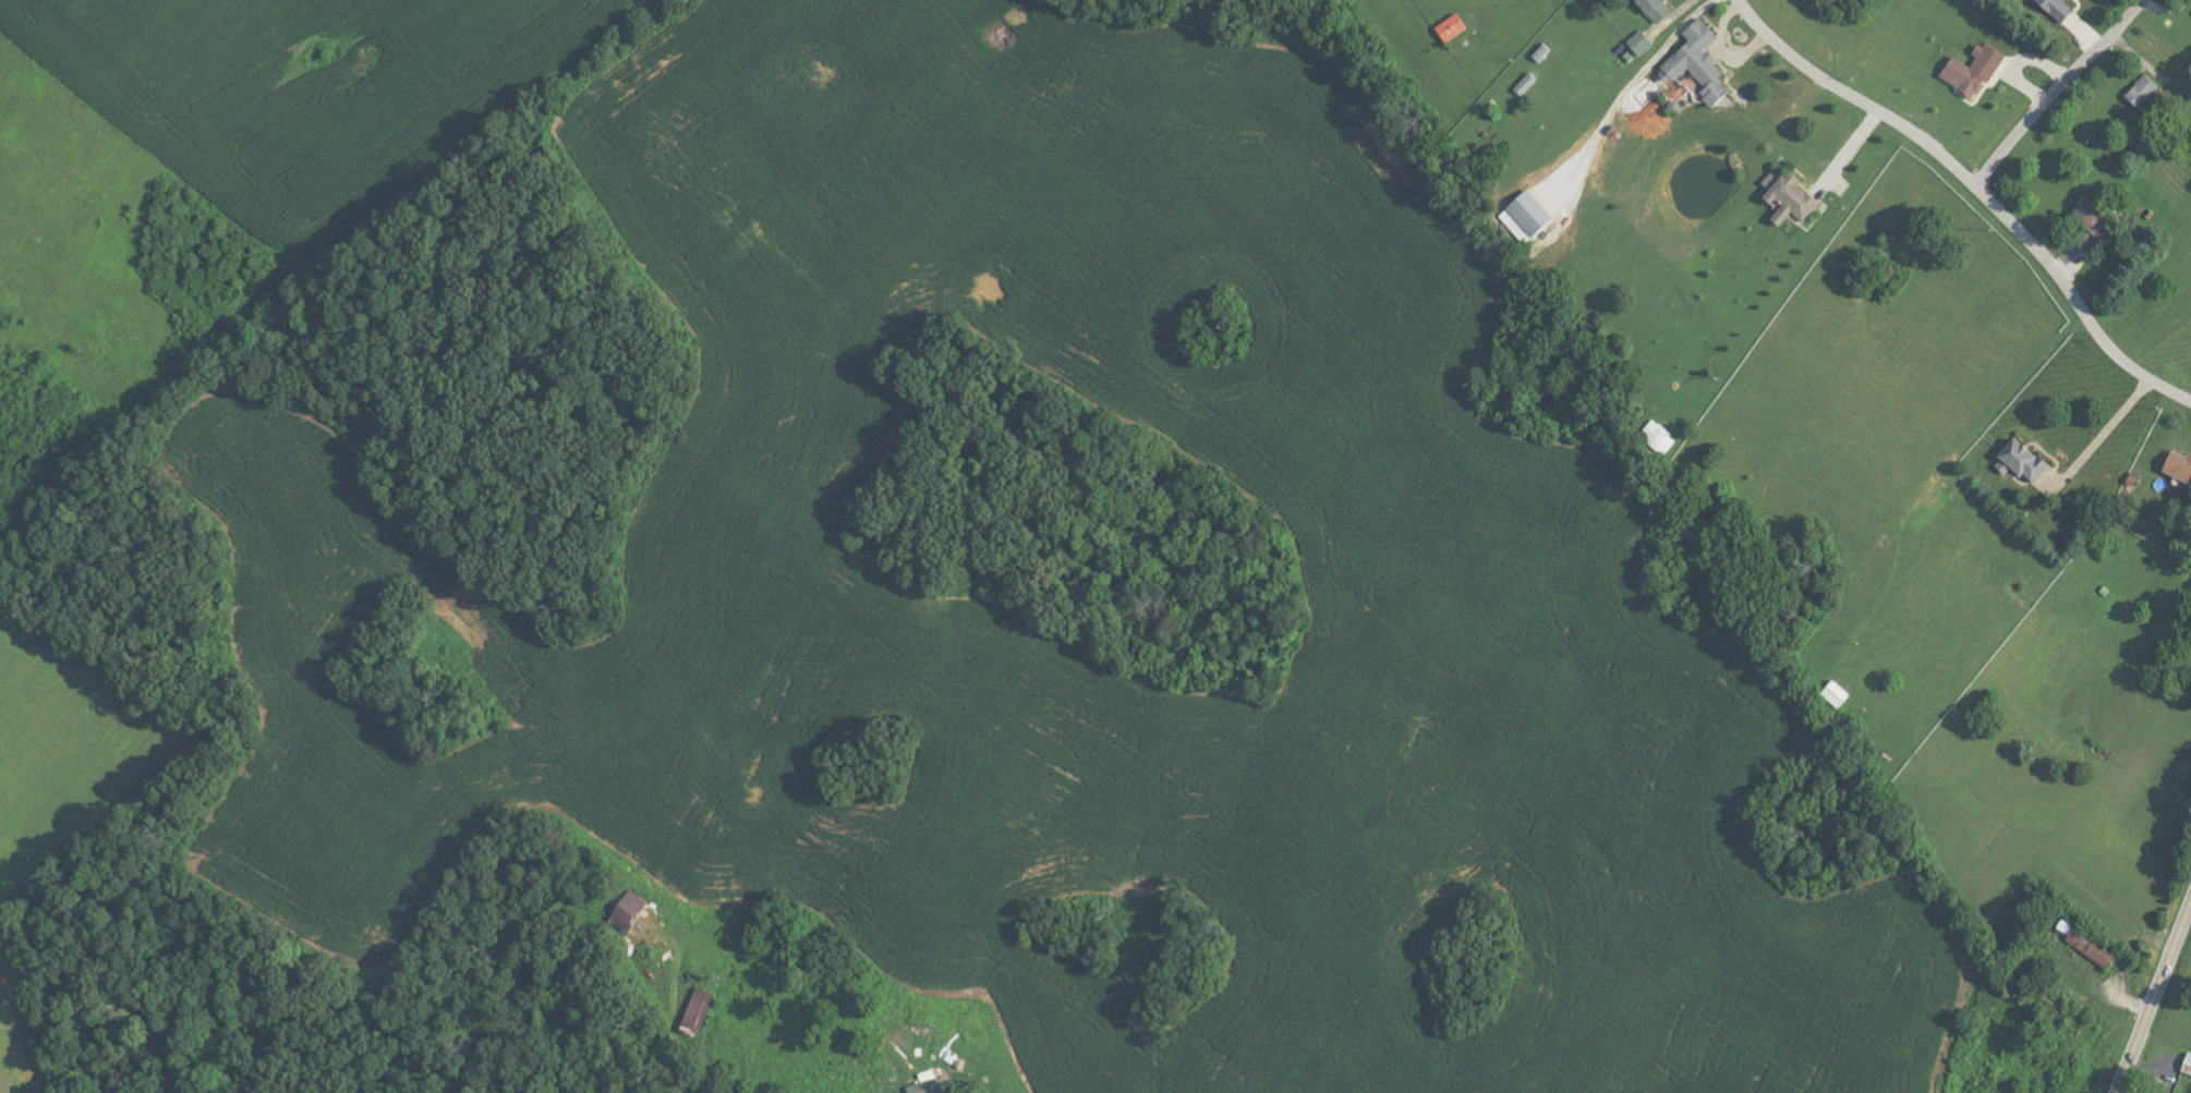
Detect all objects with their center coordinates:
building: (2061, 9)
building: (1660, 10)
building: (1455, 28)
building: (1644, 44)
road: (1723, 51)
building: (1698, 65)
building: (1978, 70)
road: (1634, 78)
road: (2058, 90)
building: (2146, 92)
road: (1848, 153)
road: (1978, 189)
building: (1793, 198)
building: (1537, 215)
building: (2097, 219)
road: (2106, 433)
building: (2027, 463)
building: (2176, 466)
building: (633, 910)
road: (2153, 997)
building: (702, 1008)
building: (2186, 1065)
building: (930, 1086)

